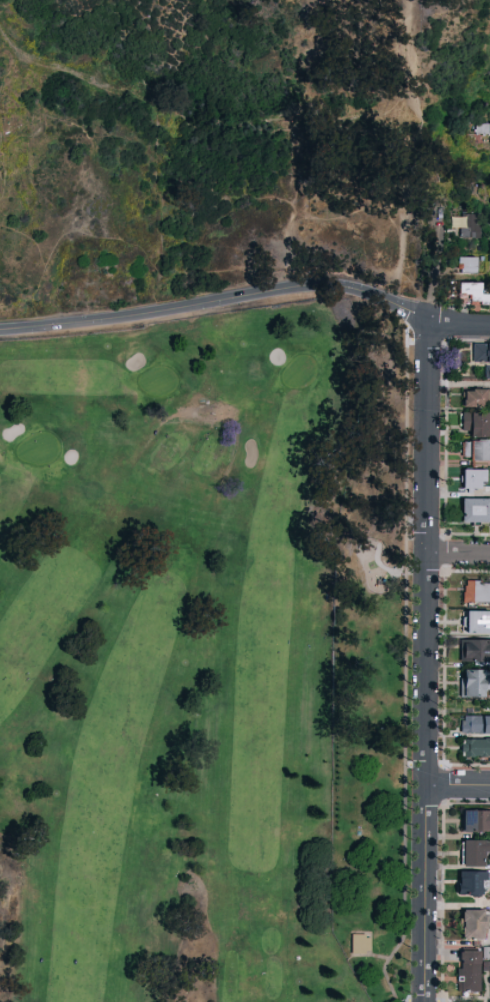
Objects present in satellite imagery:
road: (407, 16)
road: (25, 57)
road: (46, 69)
building: (484, 129)
park: (176, 145)
road: (155, 171)
building: (468, 225)
building: (464, 264)
building: (474, 294)
road: (218, 302)
road: (459, 324)
building: (481, 355)
building: (487, 372)
building: (476, 398)
building: (476, 425)
building: (476, 451)
building: (474, 479)
park: (210, 497)
building: (476, 511)
road: (408, 545)
road: (458, 553)
road: (410, 571)
building: (476, 592)
building: (476, 622)
building: (475, 651)
park: (174, 657)
road: (425, 663)
building: (473, 683)
building: (475, 725)
building: (476, 748)
road: (457, 786)
building: (476, 821)
building: (474, 853)
building: (471, 884)
building: (473, 924)
building: (360, 944)
building: (469, 971)
building: (489, 971)

